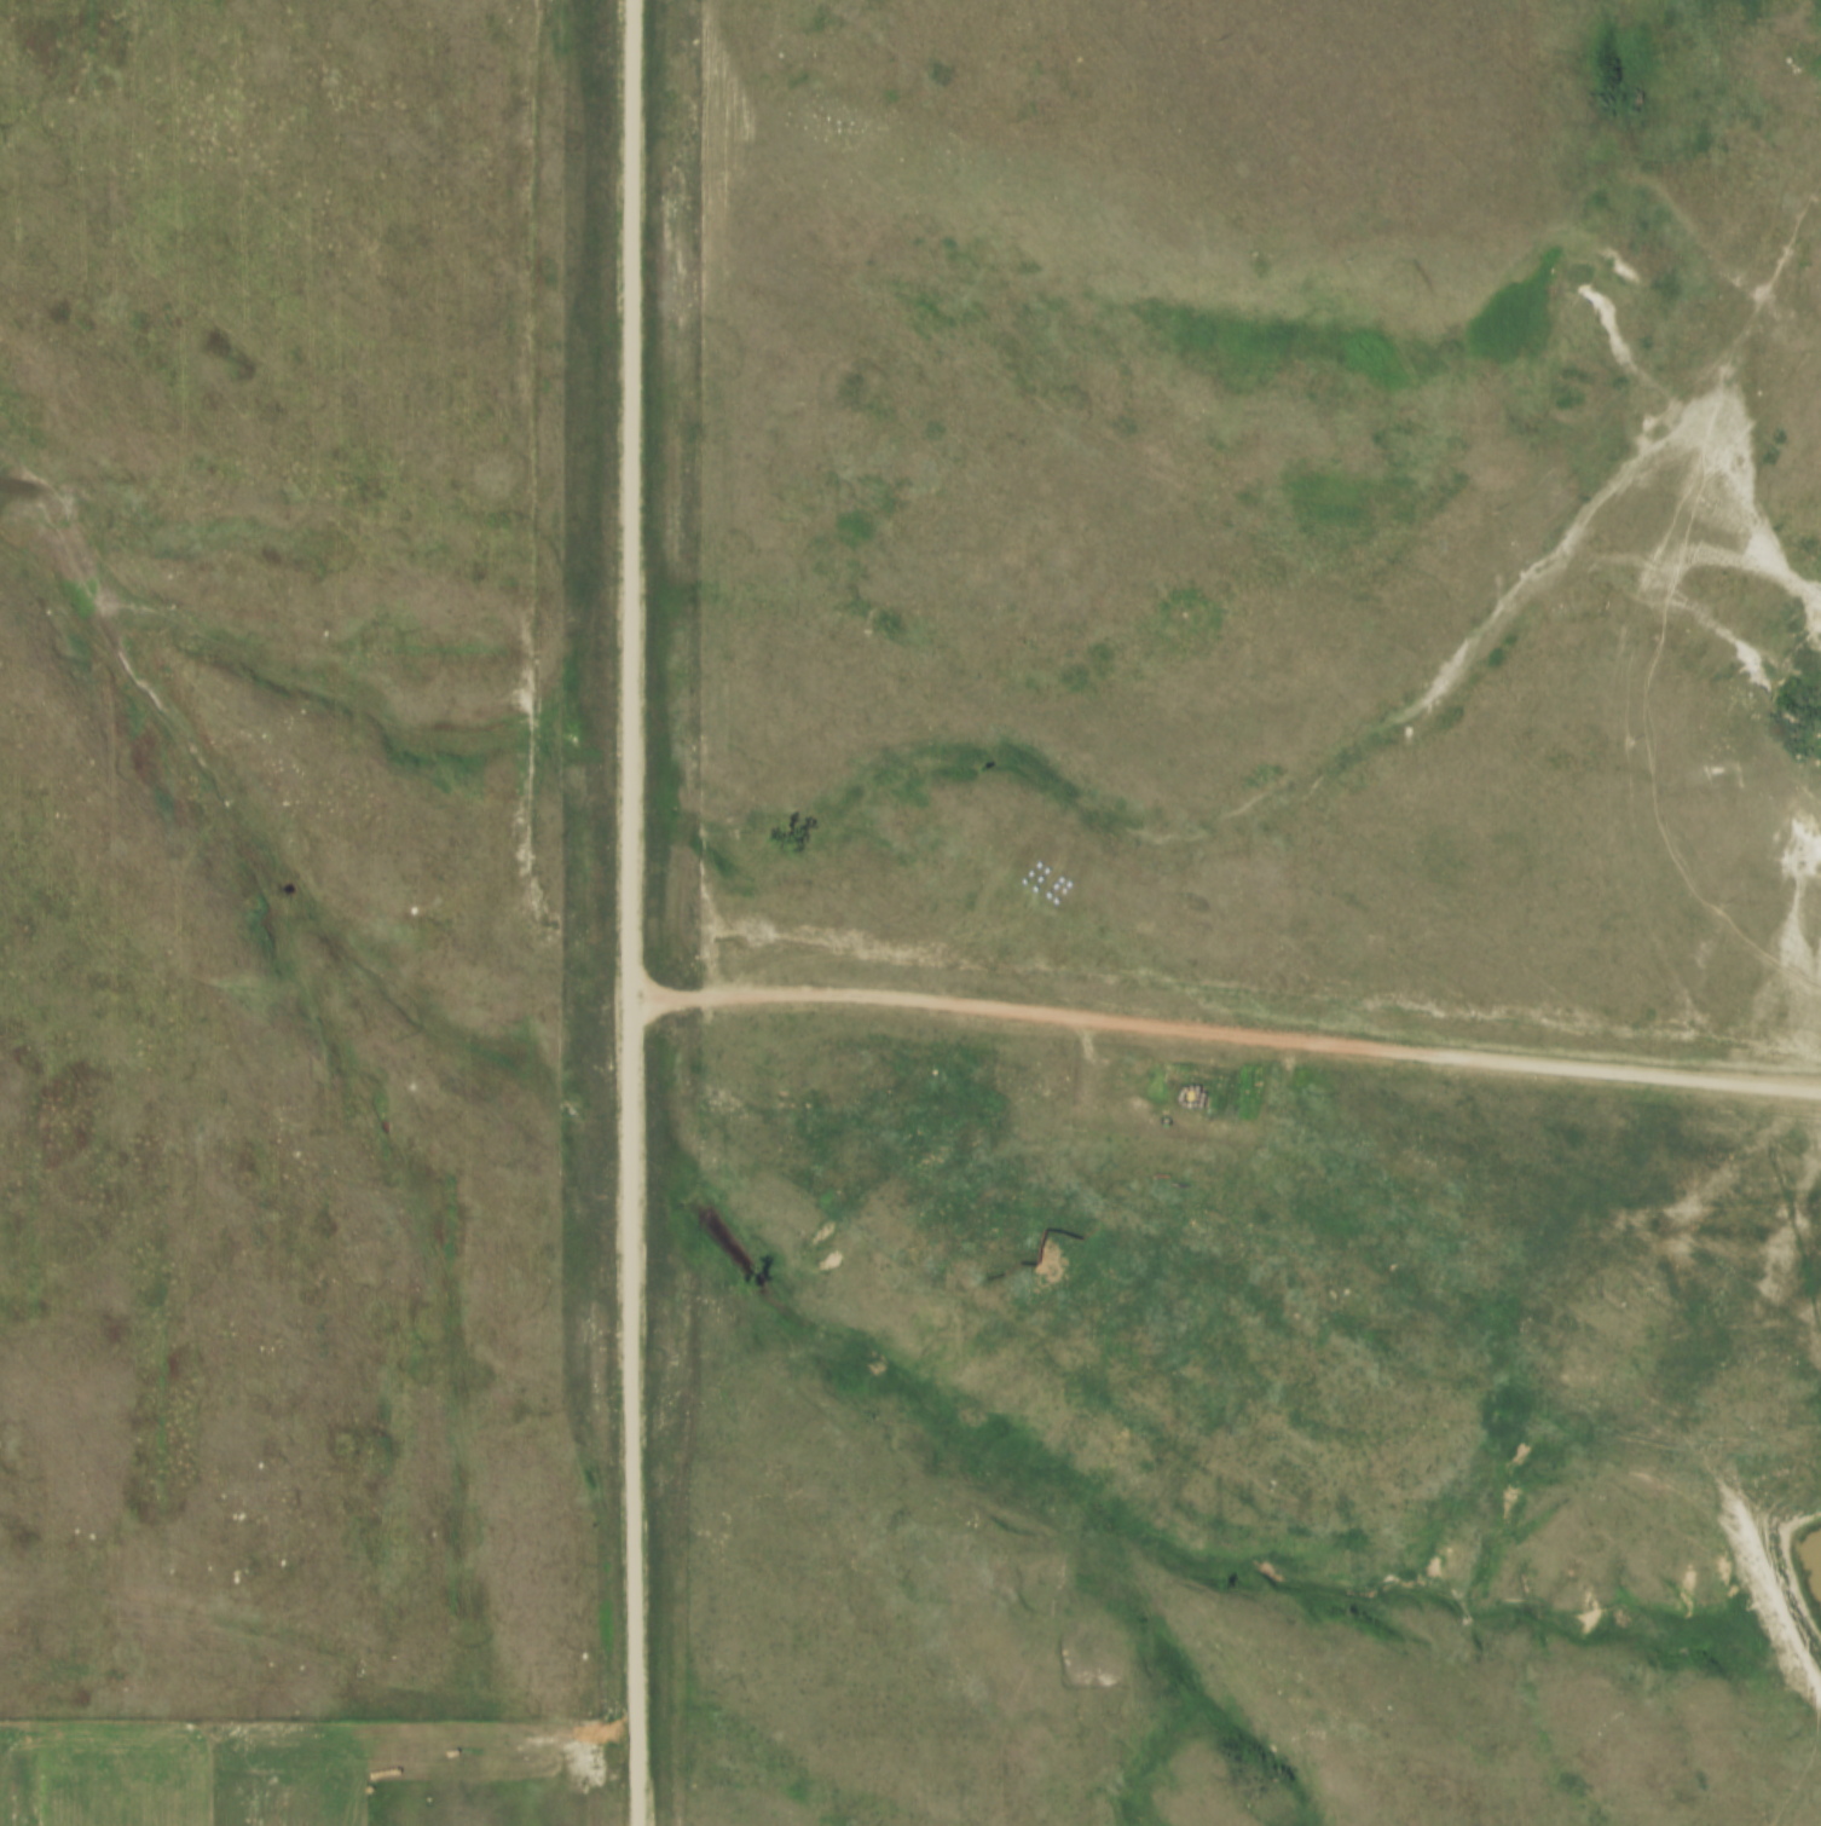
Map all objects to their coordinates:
road: (628, 913)
road: (1224, 1039)
dam: (1769, 1590)

